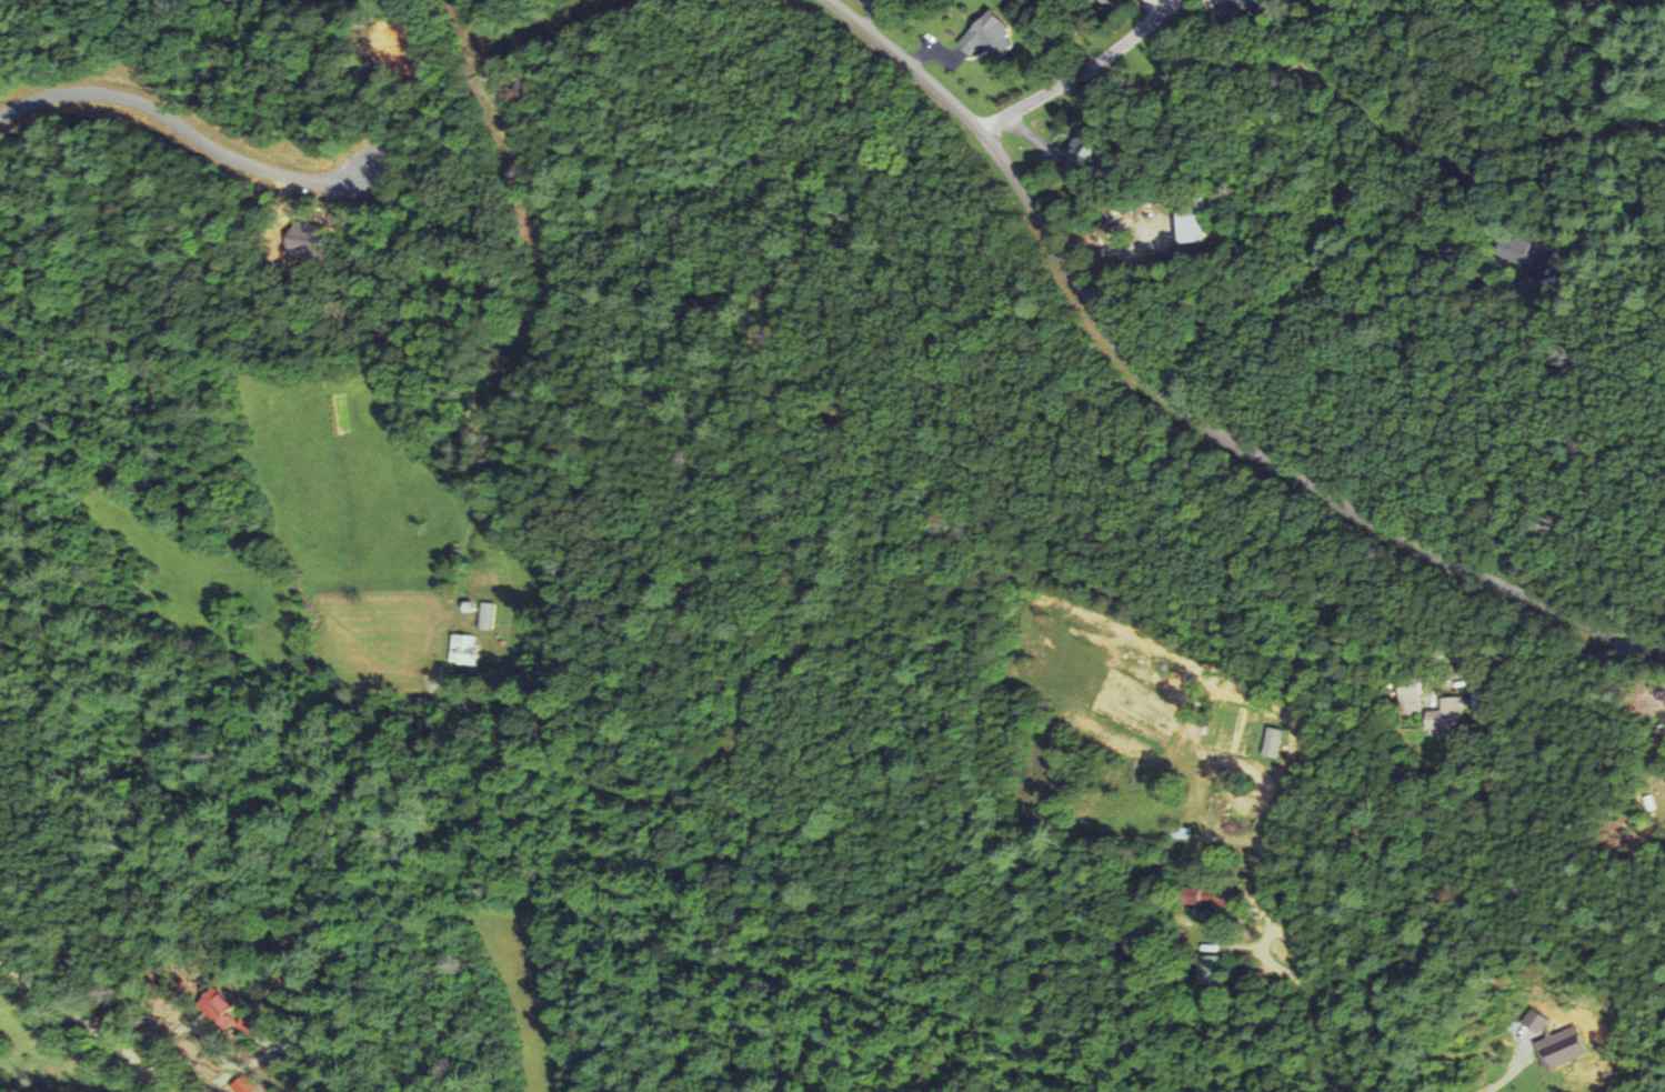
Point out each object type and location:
building: (1112, 3)
building: (1240, 12)
building: (987, 36)
road: (1076, 60)
road: (183, 127)
building: (1082, 158)
building: (1191, 220)
building: (1515, 248)
building: (1544, 258)
road: (1294, 284)
road: (1188, 402)
road: (1030, 567)
building: (485, 615)
building: (465, 650)
building: (1408, 694)
building: (1447, 715)
building: (1272, 744)
building: (1180, 833)
building: (1211, 896)
building: (1210, 971)
building: (218, 1004)
road: (86, 1015)

